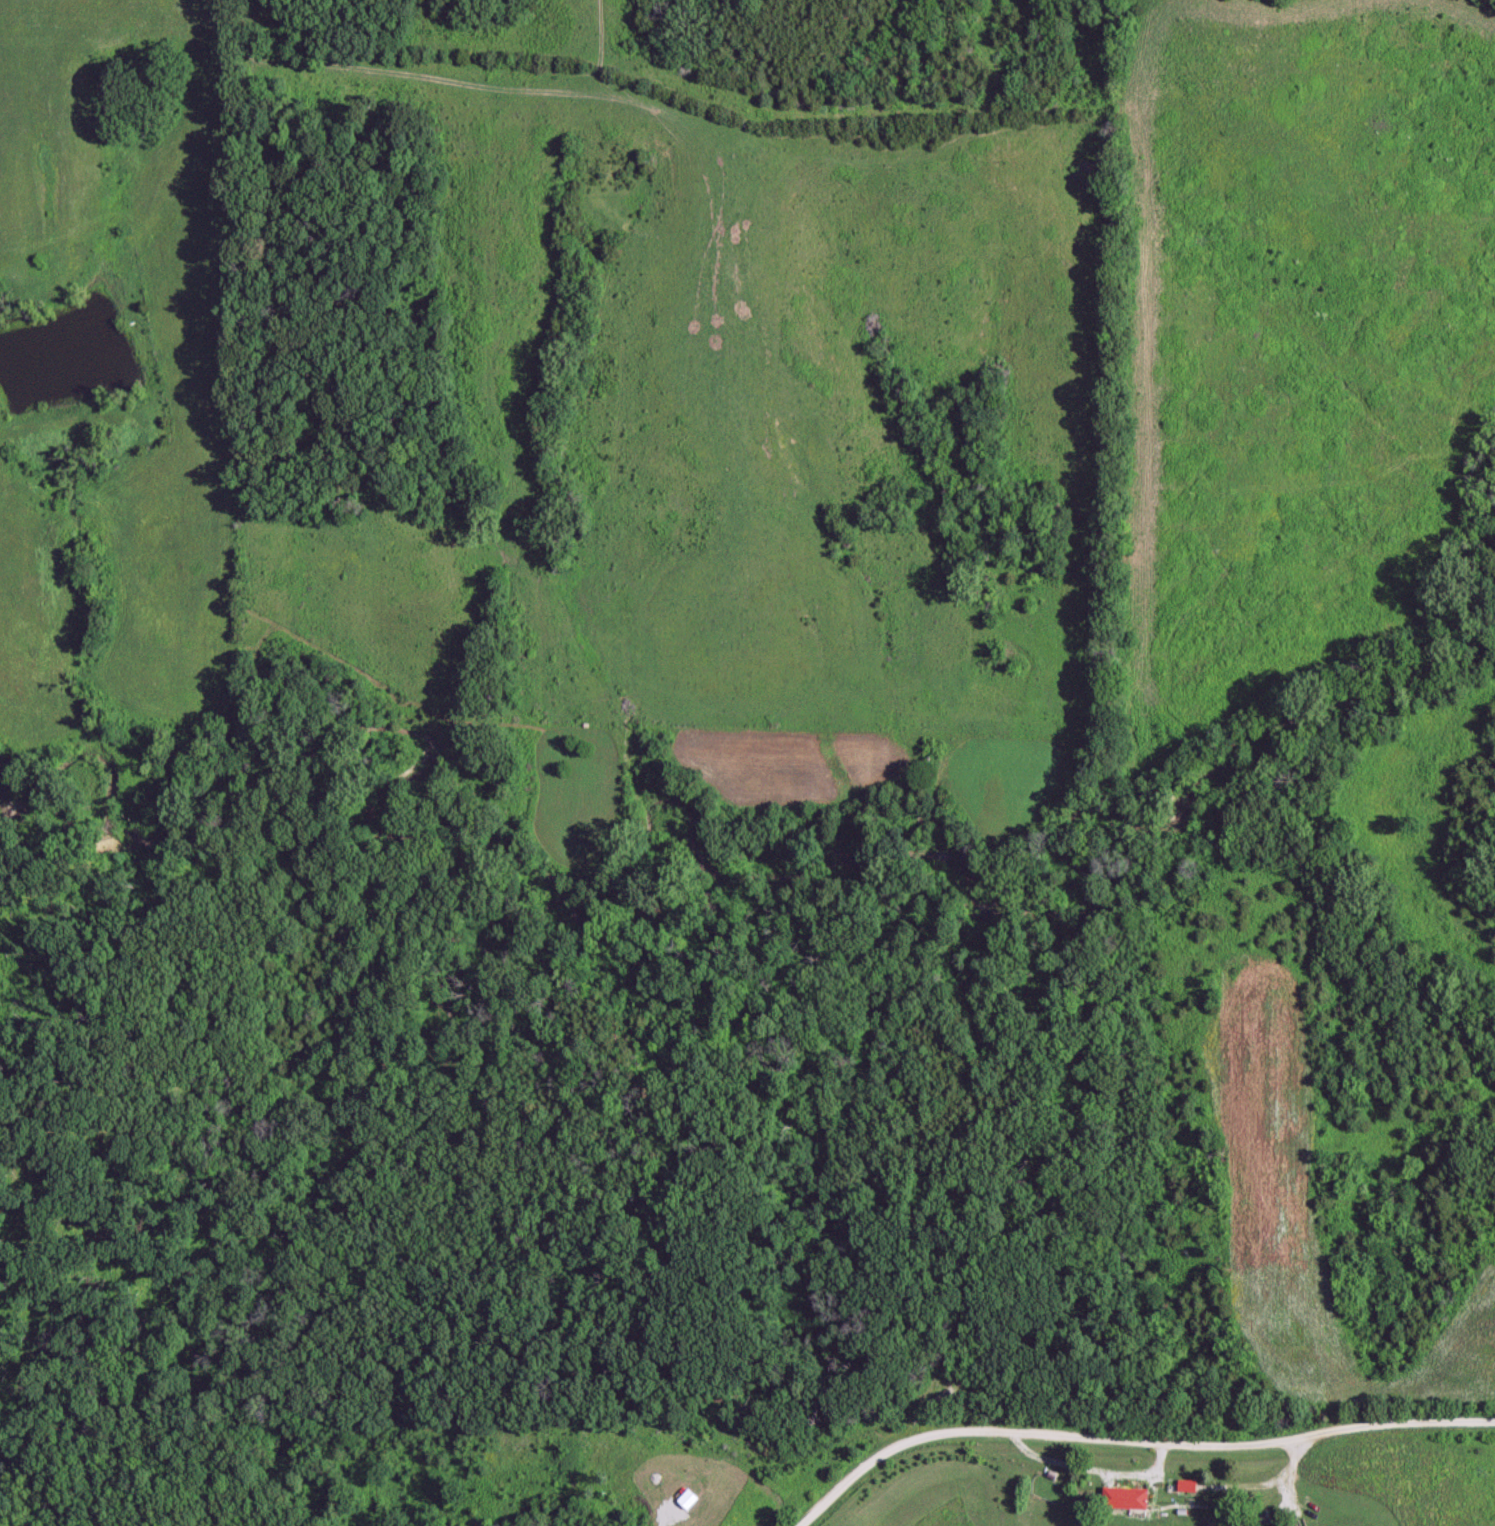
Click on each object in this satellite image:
road: (1137, 1441)
building: (1185, 1486)
building: (1123, 1499)
road: (1296, 1509)

